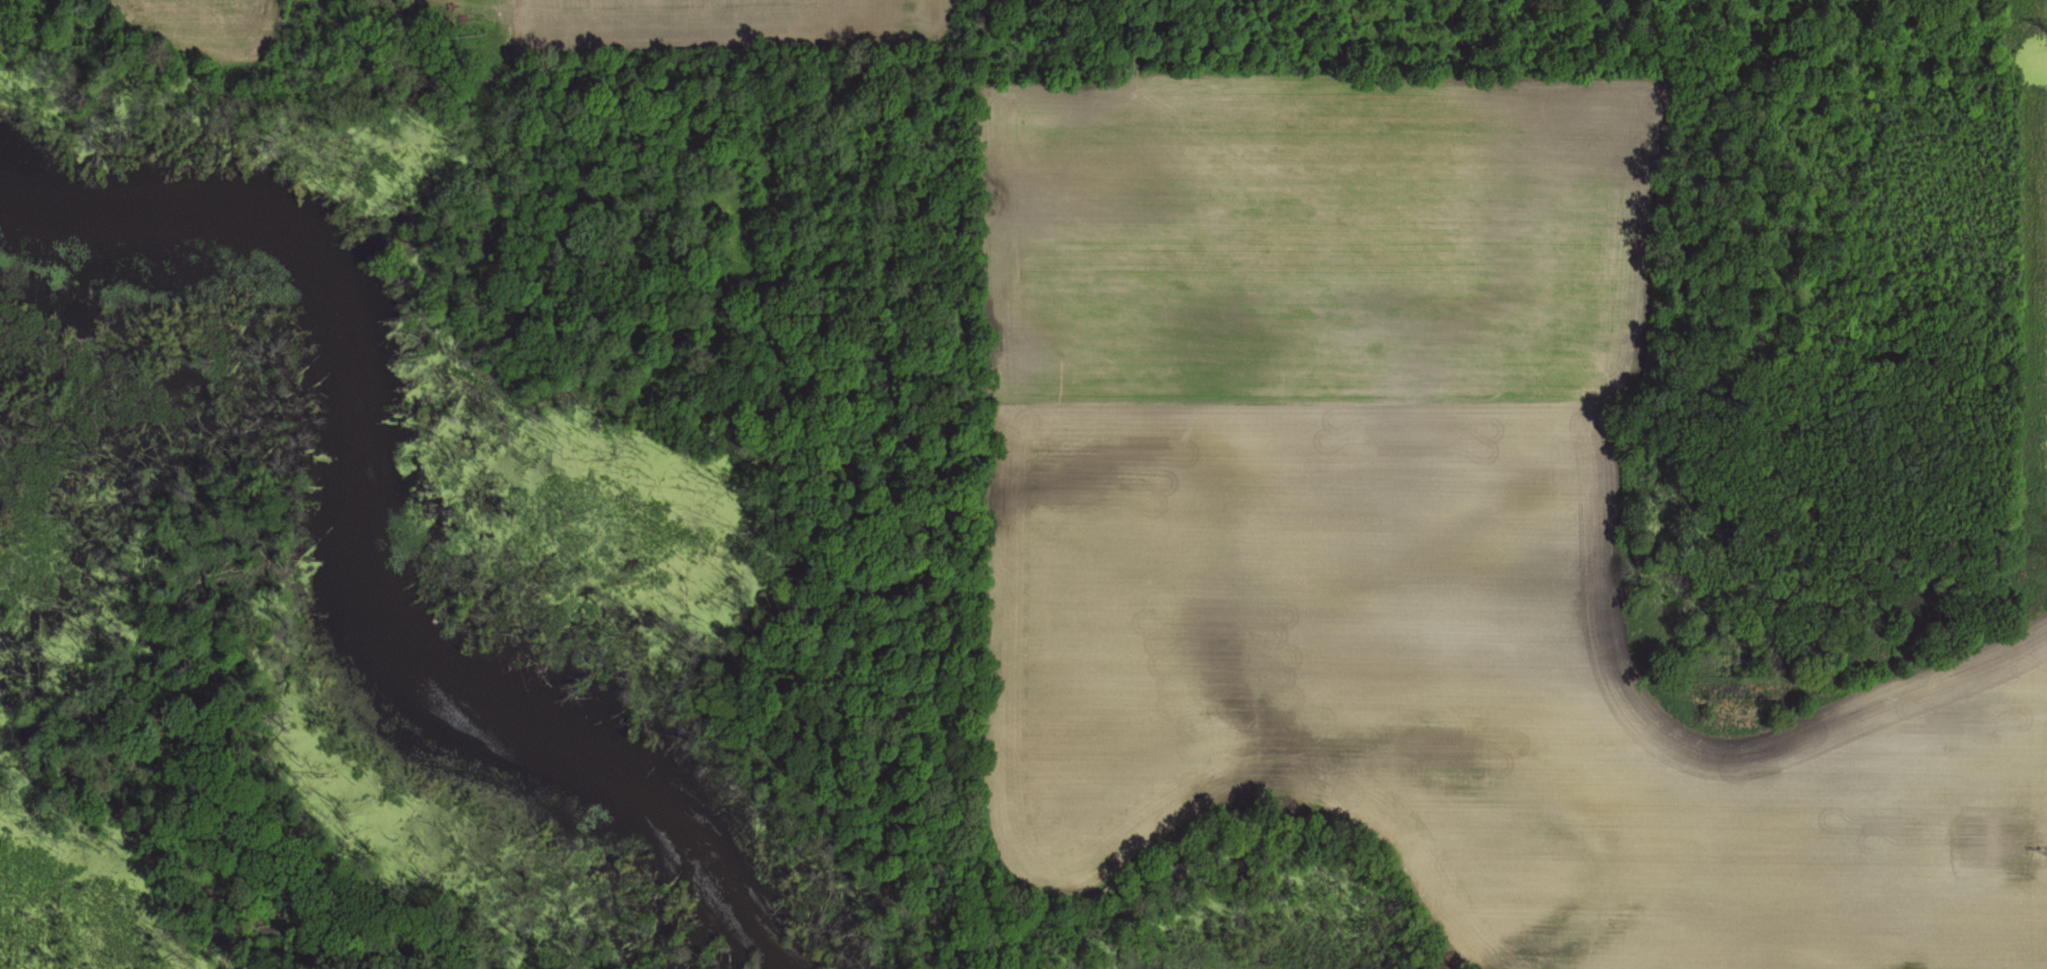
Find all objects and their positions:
river: (357, 546)

